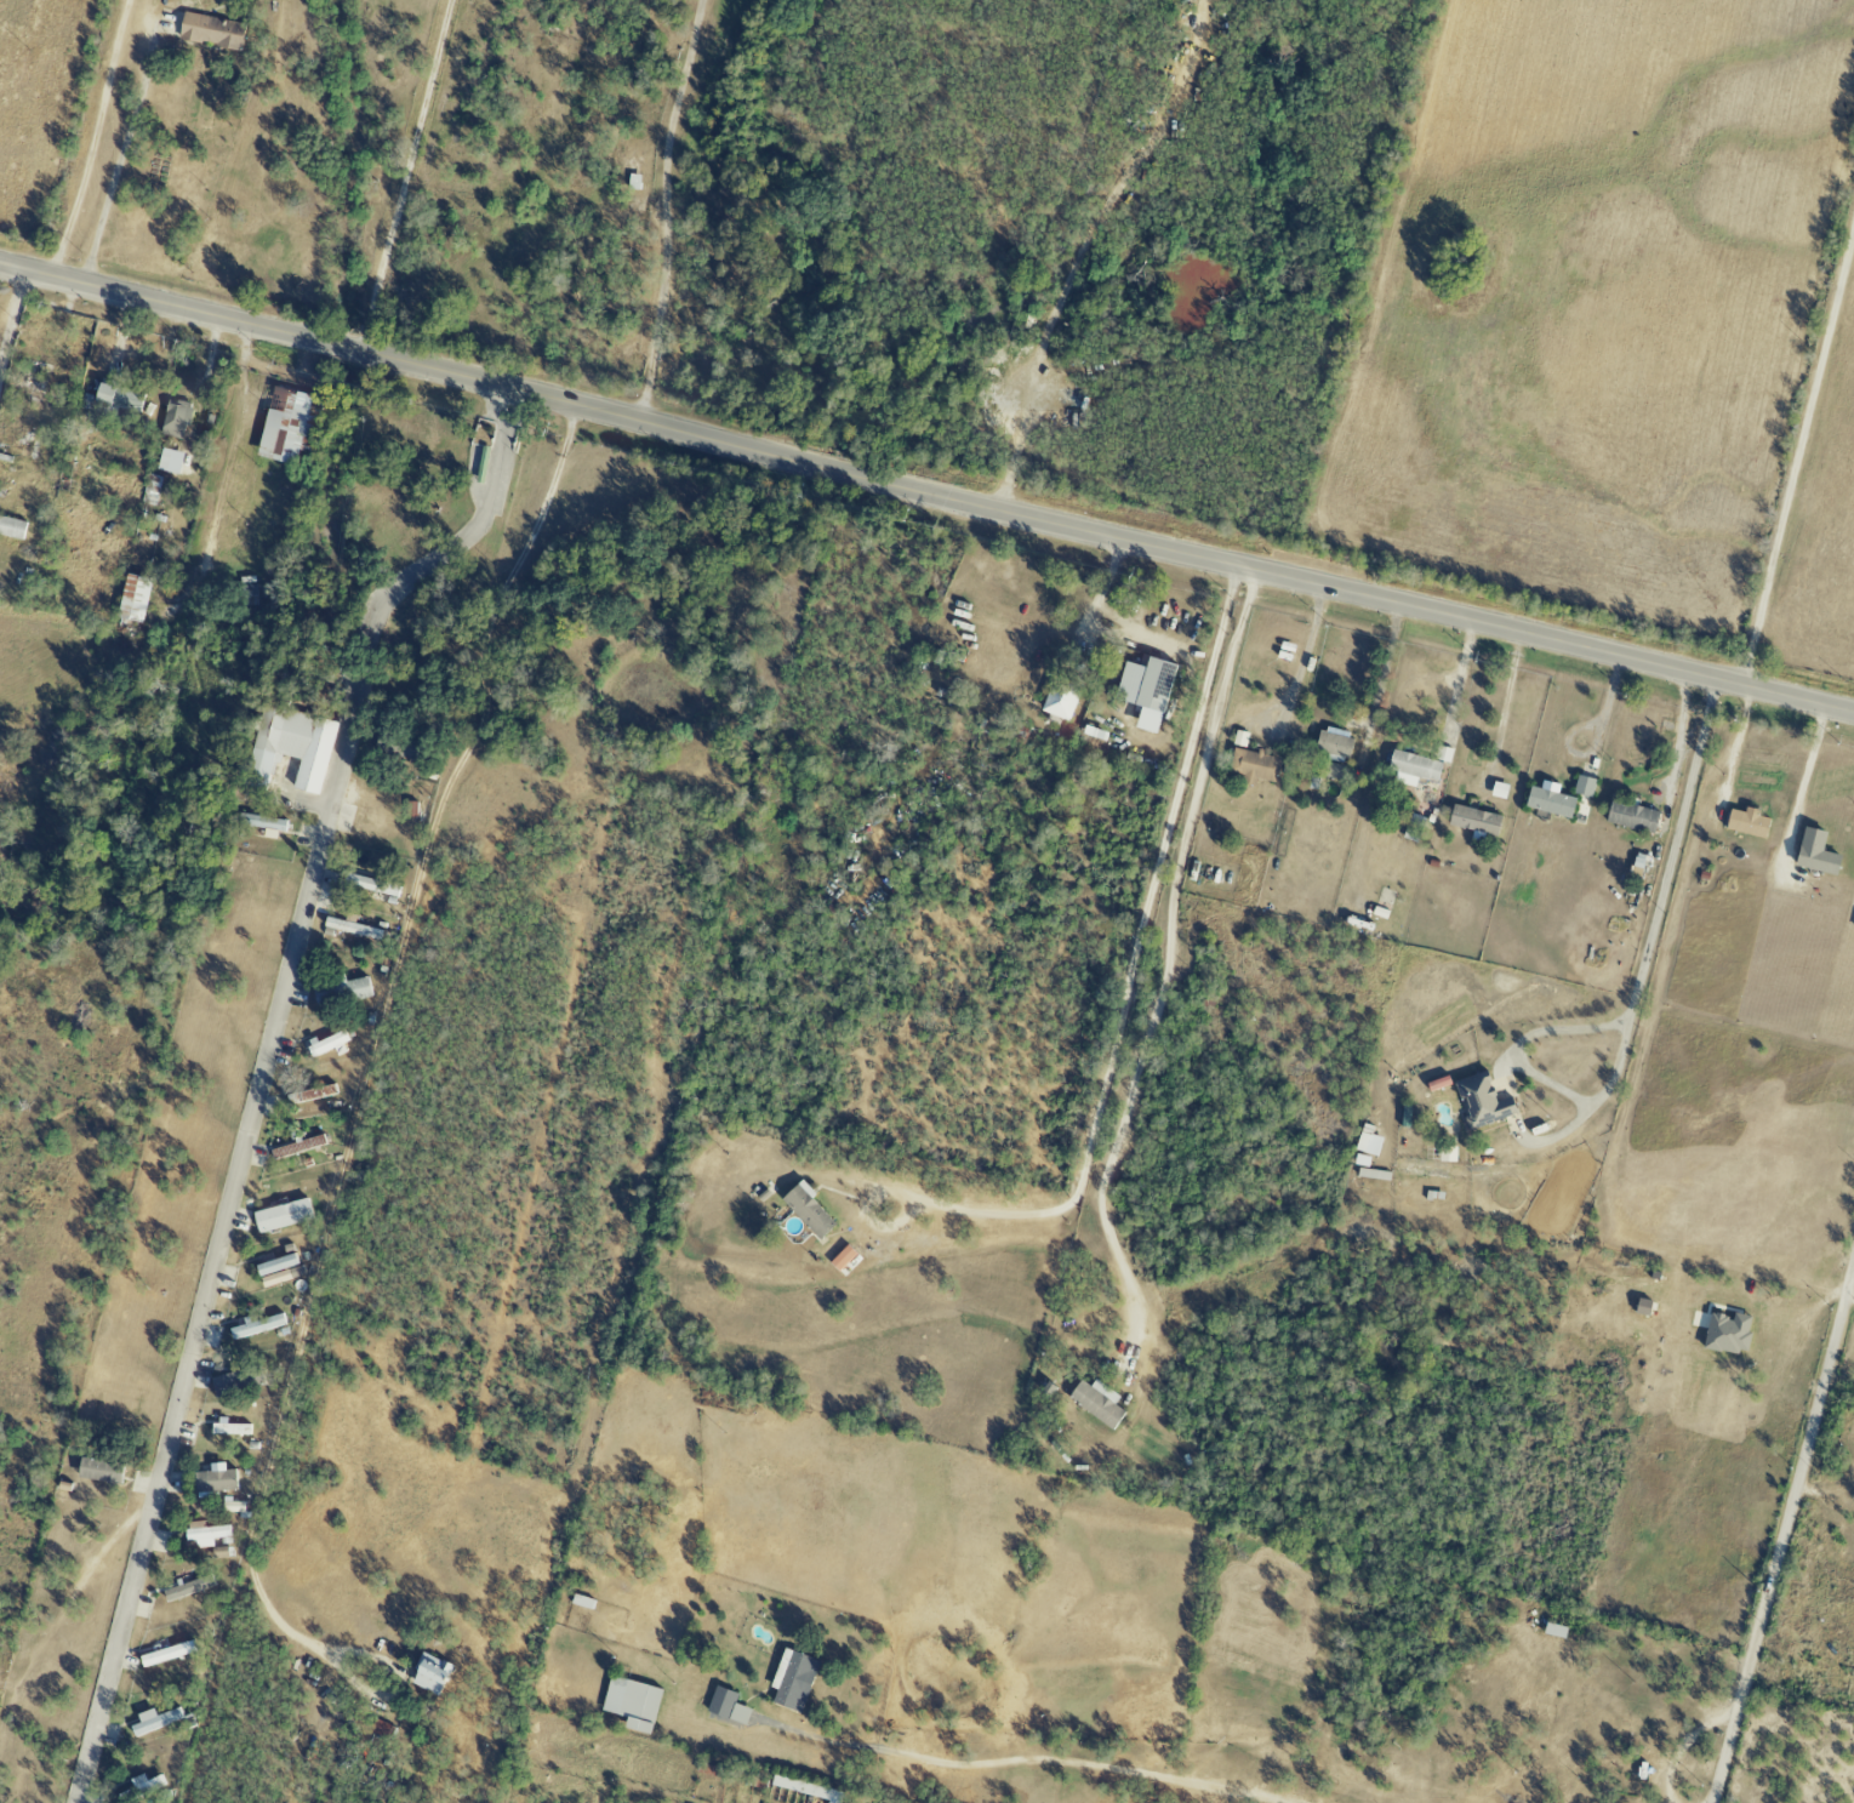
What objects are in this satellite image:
building: (215, 32)
road: (92, 138)
road: (119, 160)
road: (406, 176)
road: (667, 209)
road: (1084, 244)
road: (11, 320)
building: (122, 398)
building: (177, 421)
building: (291, 424)
road: (1798, 457)
building: (176, 463)
road: (926, 487)
building: (141, 587)
road: (1088, 615)
road: (1303, 660)
road: (1384, 664)
road: (1459, 679)
building: (1148, 689)
building: (1063, 698)
road: (1504, 708)
road: (1738, 741)
building: (1334, 743)
road: (1596, 744)
building: (290, 748)
building: (1253, 766)
building: (1413, 769)
building: (1334, 771)
road: (1807, 774)
building: (1584, 786)
building: (1548, 803)
building: (1630, 816)
building: (1473, 820)
building: (1746, 822)
building: (261, 823)
building: (1814, 852)
building: (371, 885)
building: (352, 929)
road: (1169, 953)
road: (1131, 975)
building: (341, 993)
road: (1633, 1002)
building: (327, 1044)
road: (259, 1073)
road: (367, 1073)
building: (1483, 1102)
building: (1367, 1145)
building: (810, 1211)
building: (840, 1257)
road: (1852, 1296)
building: (257, 1326)
building: (1727, 1334)
building: (1096, 1403)
building: (230, 1428)
building: (98, 1472)
building: (215, 1479)
road: (1561, 1529)
building: (205, 1535)
road: (1785, 1541)
building: (429, 1674)
building: (792, 1681)
building: (632, 1704)
building: (726, 1707)
building: (153, 1722)
road: (1685, 1746)
road: (1020, 1758)
building: (146, 1785)

